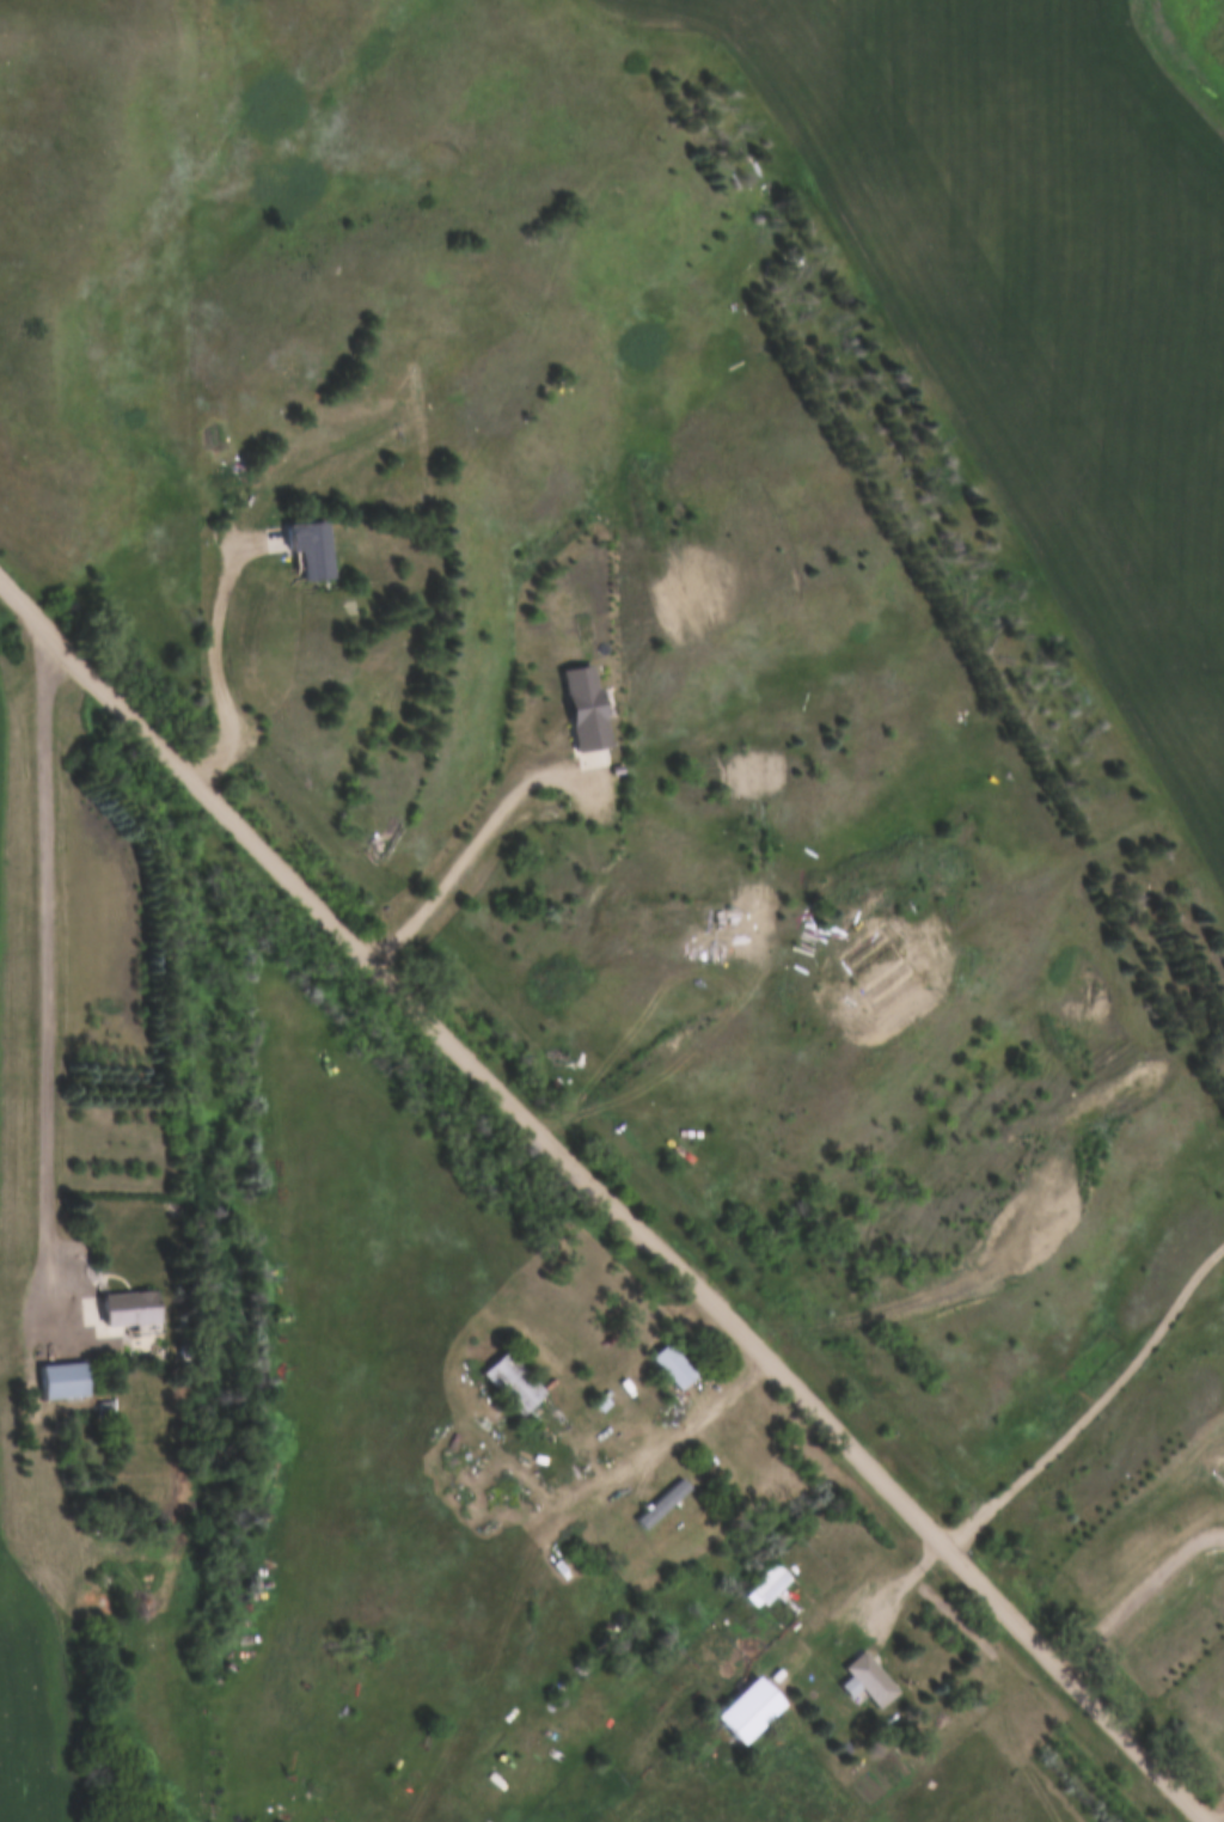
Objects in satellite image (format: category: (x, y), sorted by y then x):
building: (307, 550)
building: (588, 711)
road: (47, 985)
road: (608, 1194)
building: (120, 1315)
building: (668, 1368)
building: (55, 1383)
building: (508, 1383)
road: (626, 1460)
building: (659, 1503)
building: (760, 1588)
building: (864, 1682)
building: (722, 1701)
building: (519, 1732)

